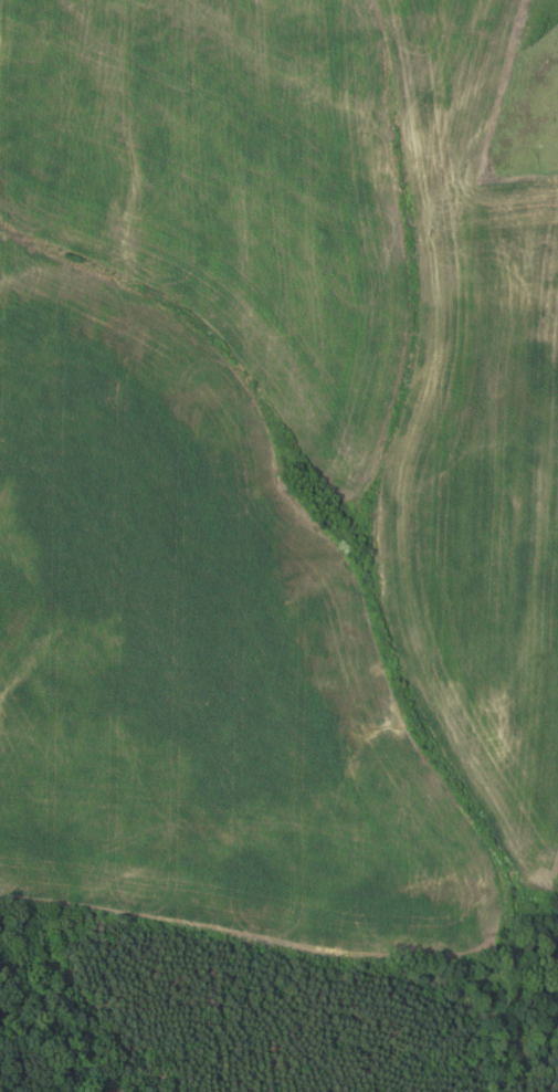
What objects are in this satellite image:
crop: (274, 471)

